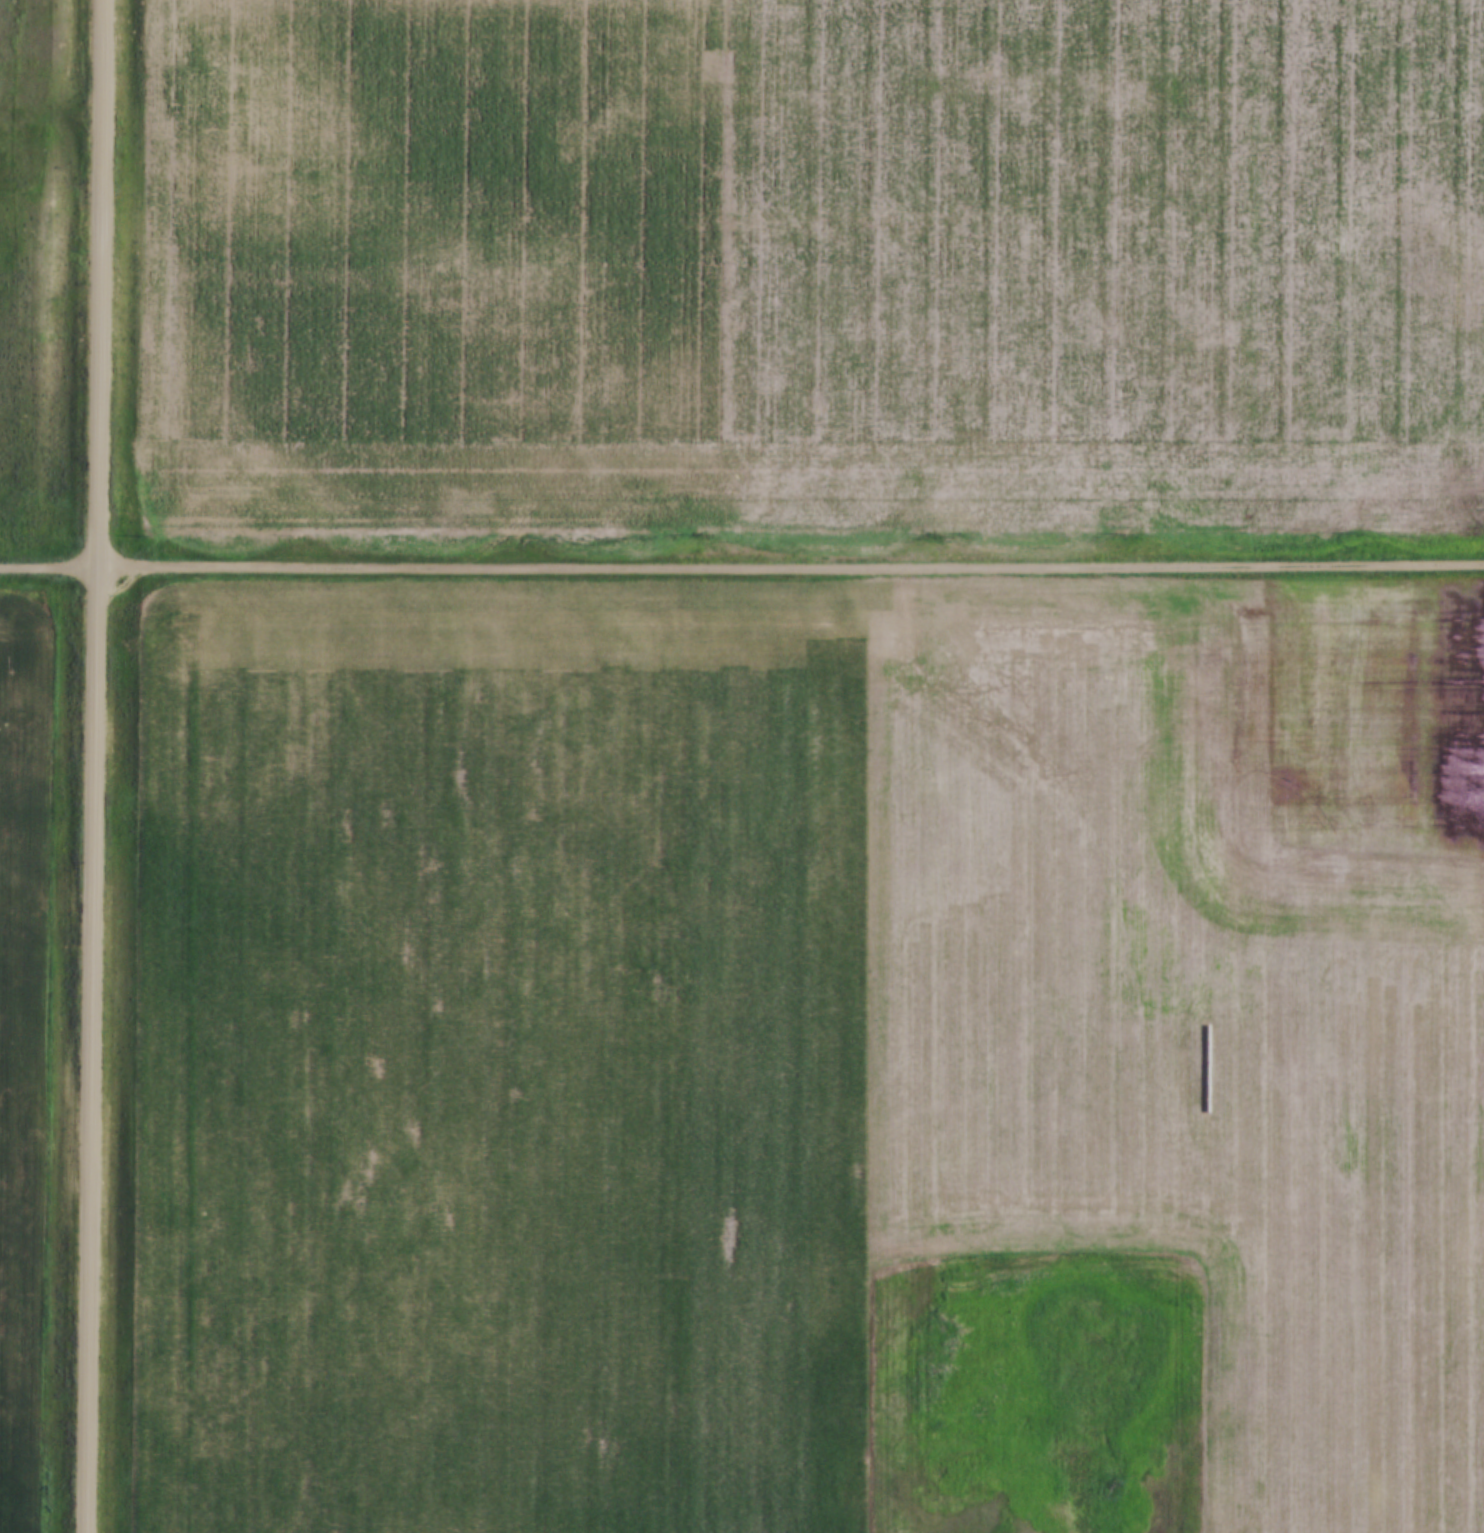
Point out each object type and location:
road: (49, 565)
road: (790, 565)
road: (94, 766)

